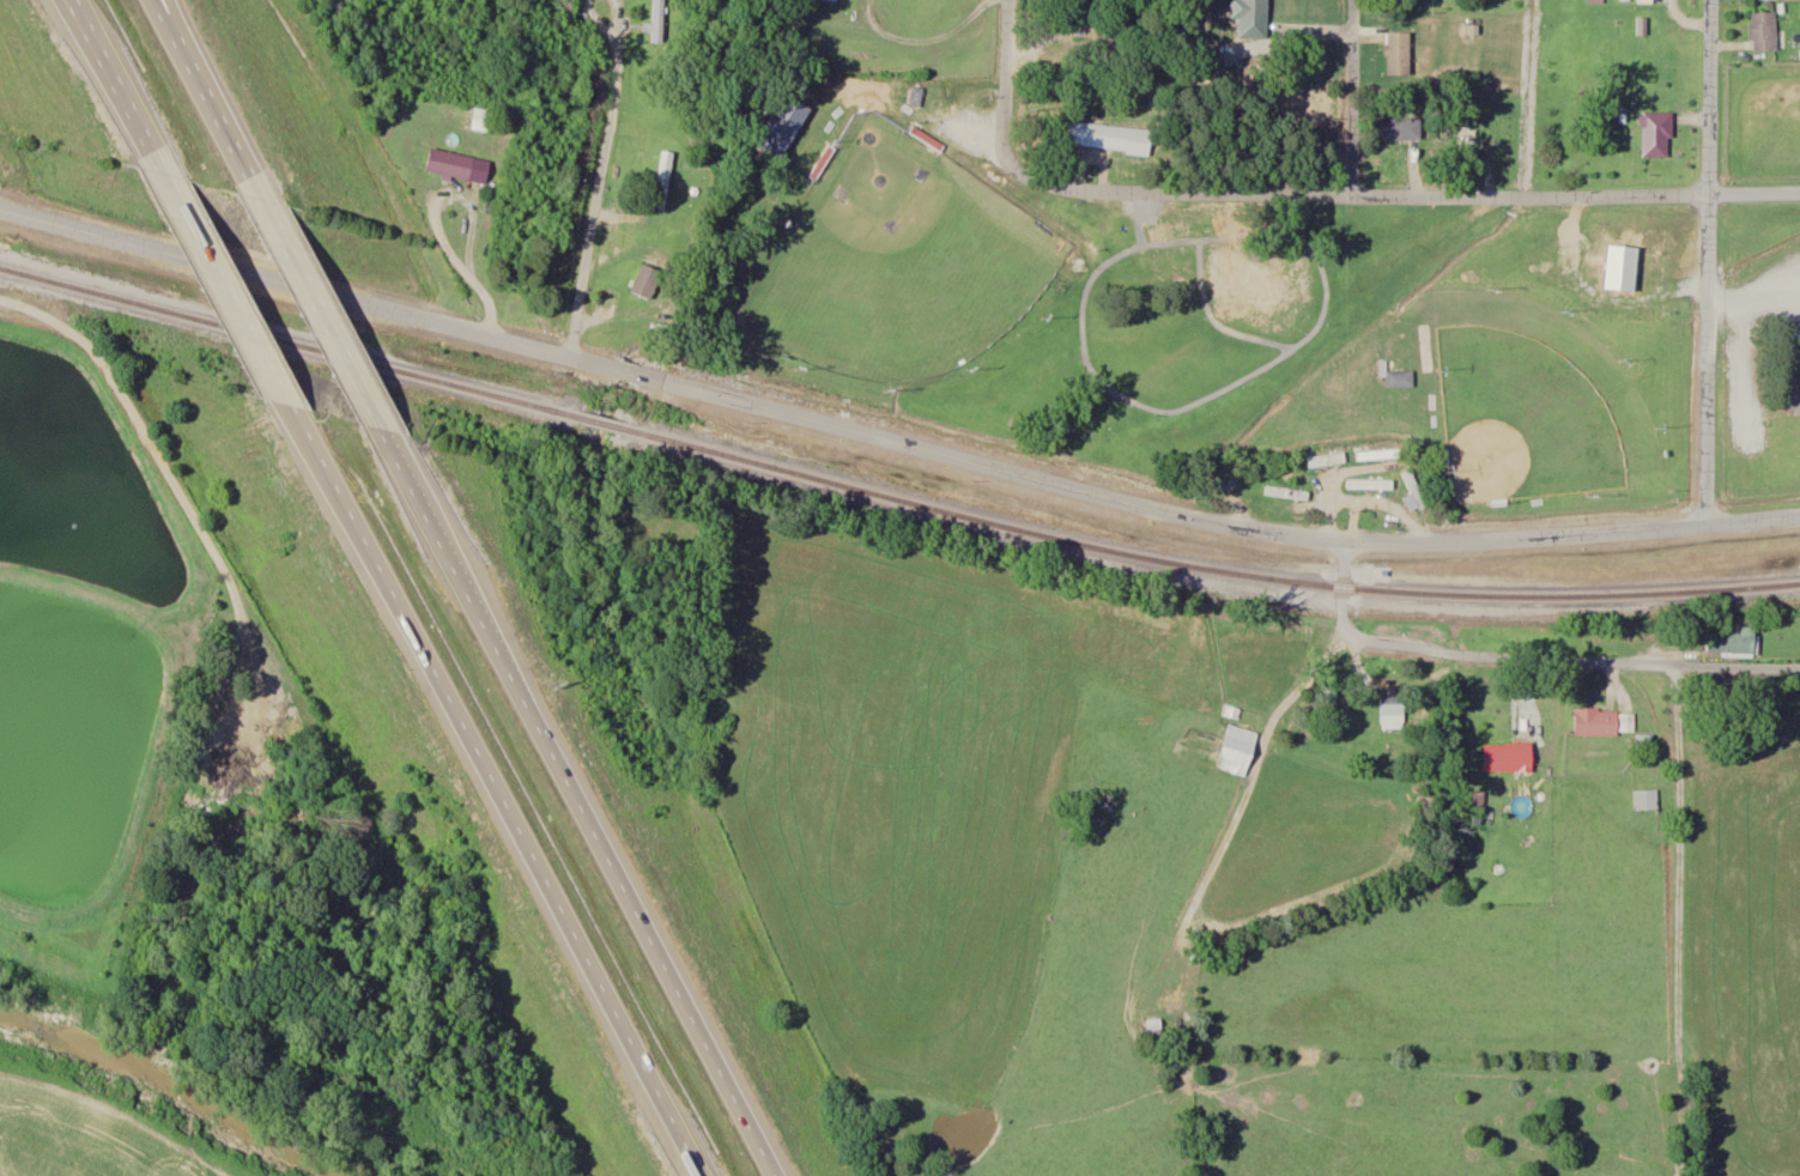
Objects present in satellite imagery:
building: (832, 0)
building: (1596, 1)
building: (1078, 18)
building: (1251, 18)
building: (659, 20)
building: (1764, 31)
road: (187, 38)
building: (1400, 53)
road: (206, 86)
road: (117, 89)
road: (1351, 97)
building: (1400, 129)
building: (1656, 134)
building: (1469, 135)
building: (1109, 137)
building: (442, 154)
building: (663, 180)
road: (595, 184)
road: (1274, 190)
road: (1756, 192)
building: (1656, 259)
park: (899, 262)
road: (1710, 262)
building: (647, 280)
building: (1611, 309)
building: (1426, 363)
road: (356, 376)
building: (1400, 377)
road: (274, 389)
building: (1793, 396)
park: (1534, 401)
road: (891, 441)
building: (1378, 454)
building: (1327, 459)
building: (1219, 484)
building: (1370, 484)
building: (1413, 491)
building: (1287, 492)
railway: (890, 496)
building: (1617, 638)
building: (1723, 642)
road: (1525, 656)
building: (1393, 711)
building: (1604, 722)
building: (1238, 750)
building: (1509, 758)
building: (1646, 800)
road: (624, 874)
road: (540, 889)
building: (1154, 1025)

